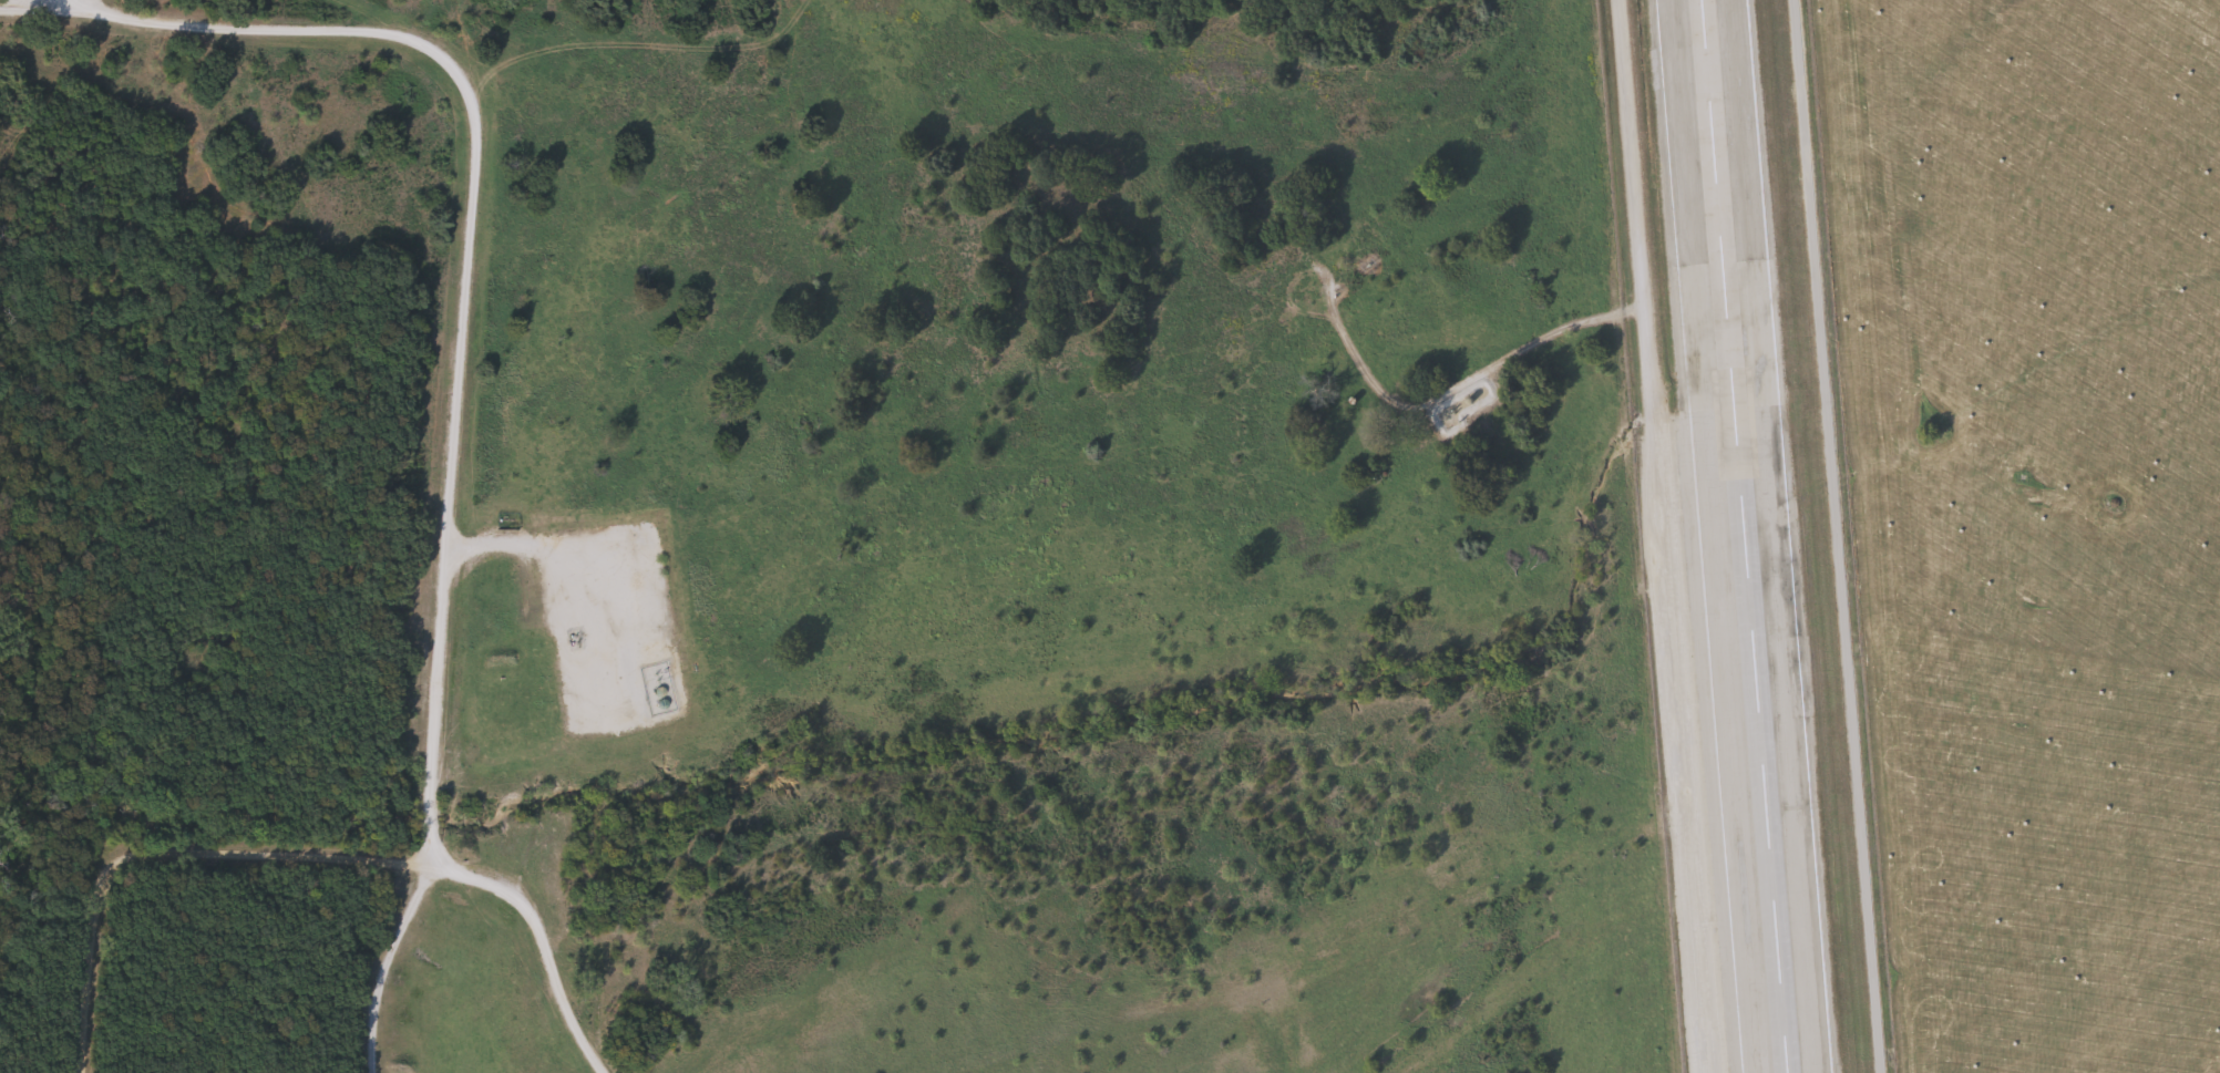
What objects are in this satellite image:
road: (469, 230)
road: (1657, 536)
airport: (1744, 536)
airport runway: (1746, 536)
road: (490, 545)
road: (592, 602)
building: (654, 689)
road: (162, 850)
road: (438, 853)
road: (539, 940)
road: (384, 964)

